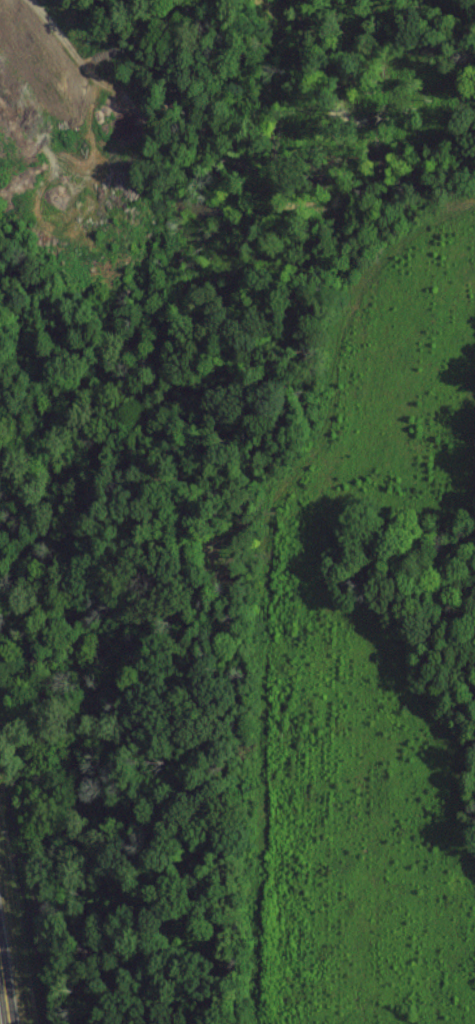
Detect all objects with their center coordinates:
road: (4, 996)

